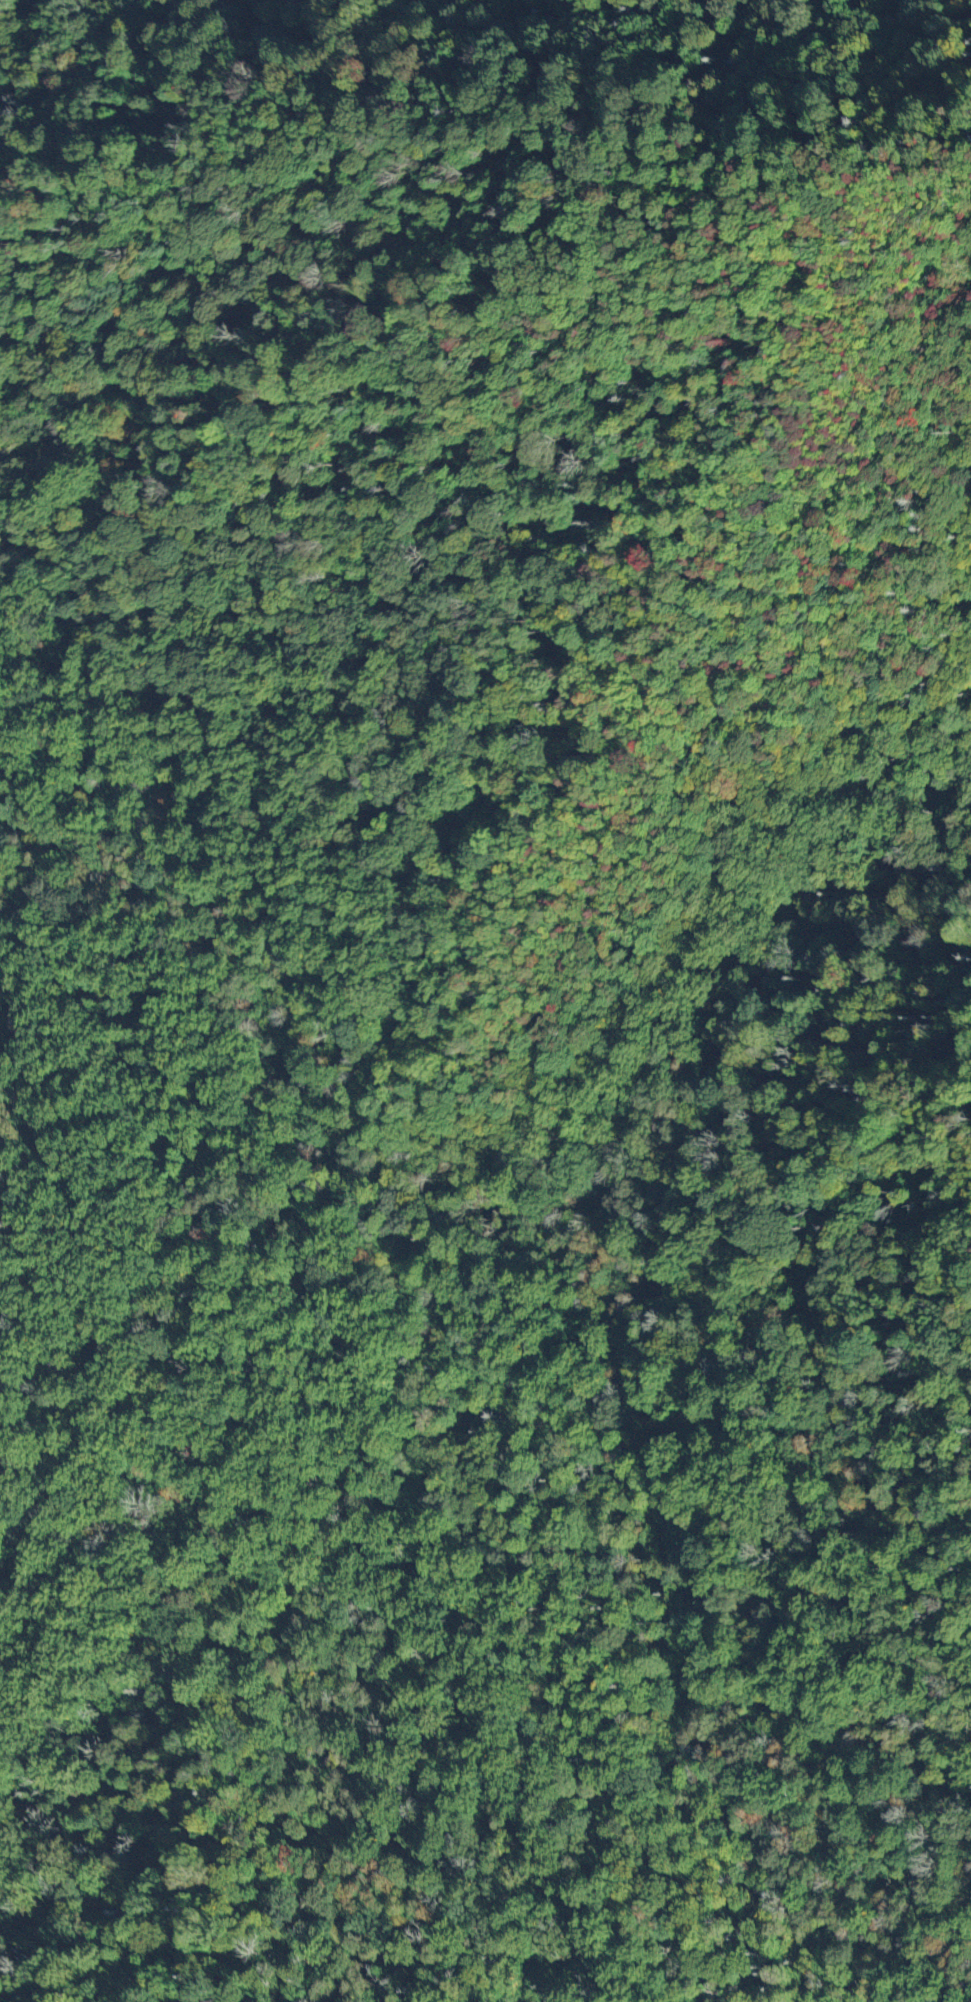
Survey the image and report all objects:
road: (544, 1231)

